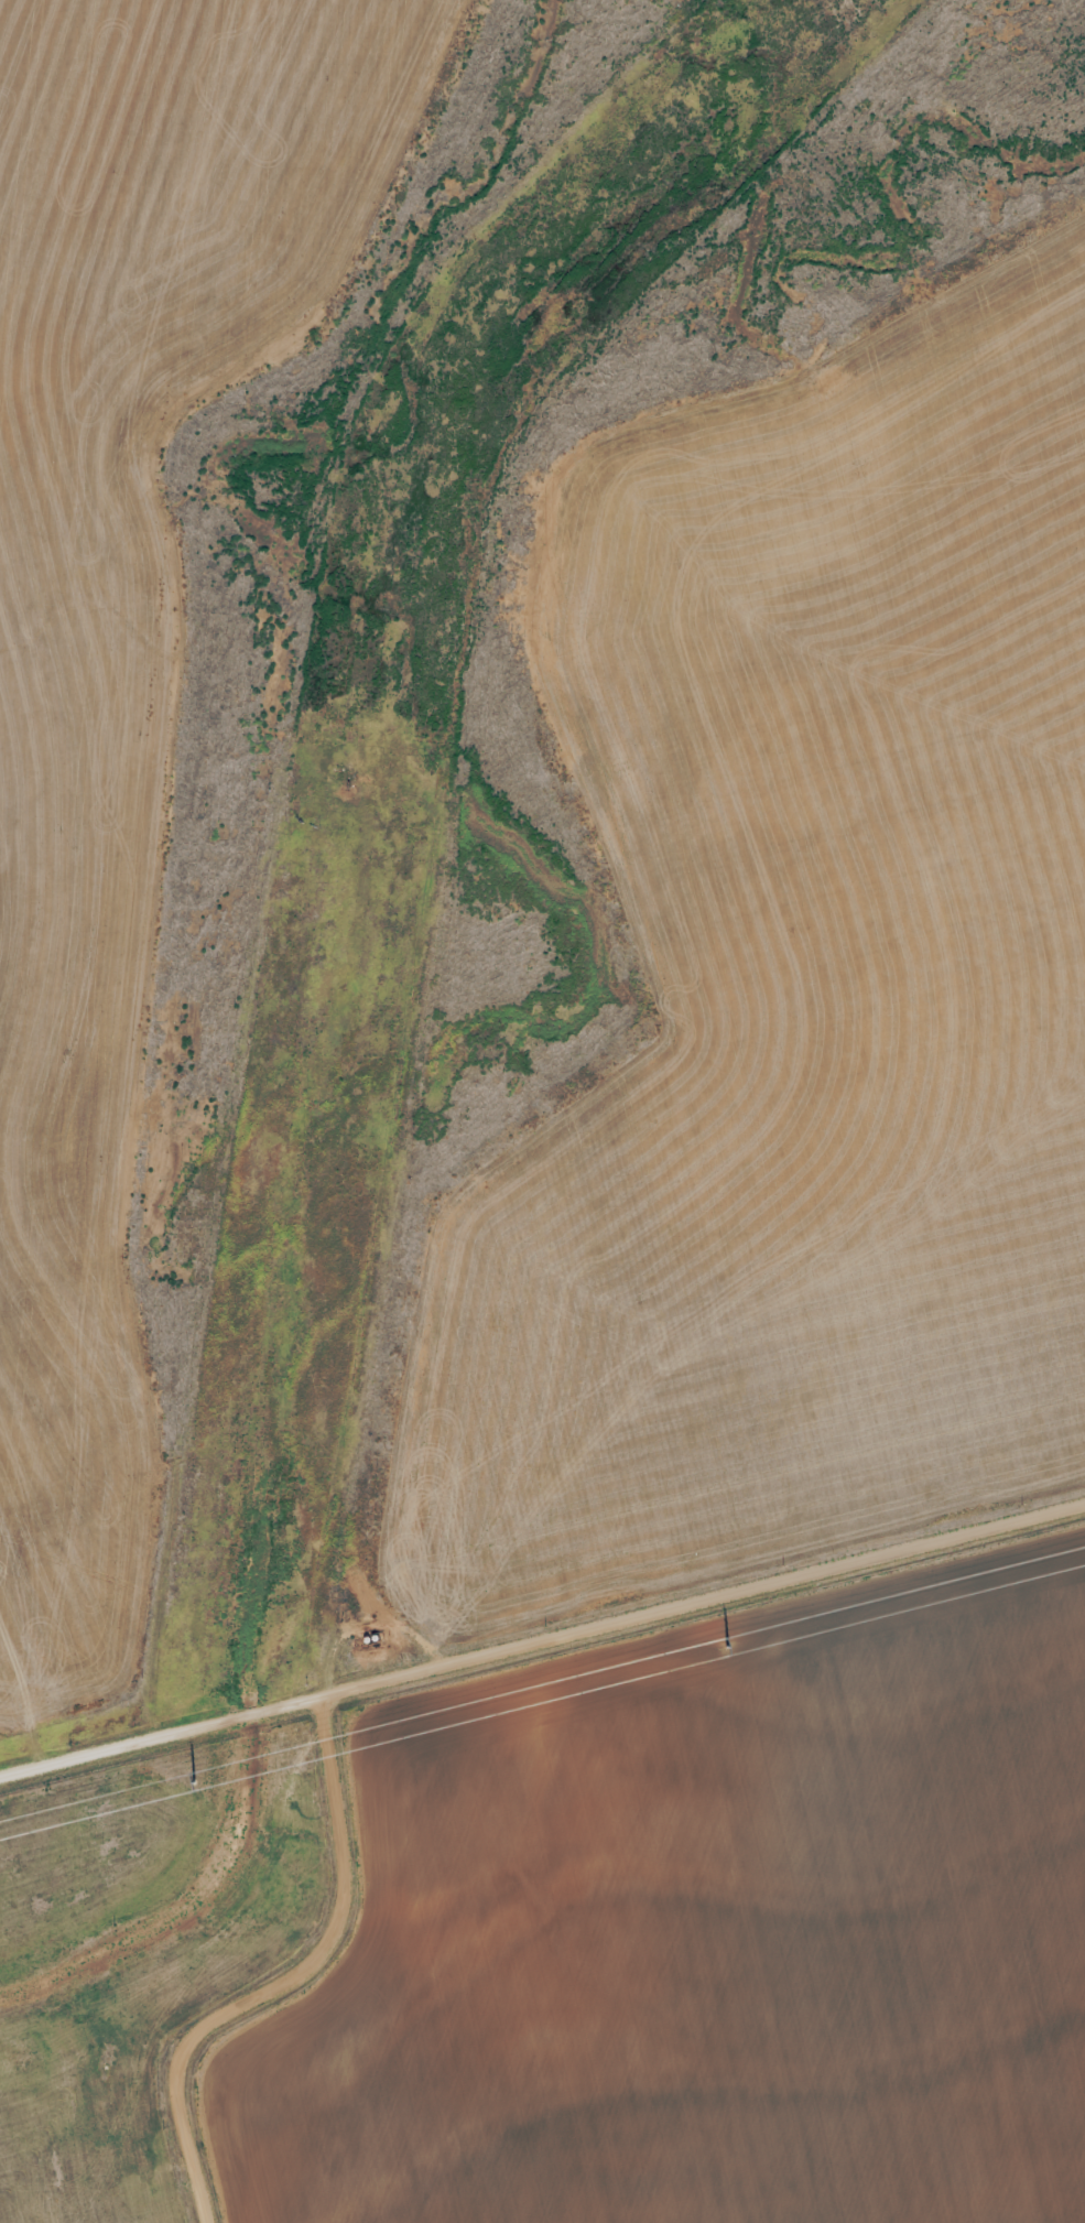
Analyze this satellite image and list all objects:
road: (542, 1637)
power tower: (728, 1647)
power tower: (194, 1782)
road: (297, 1978)

